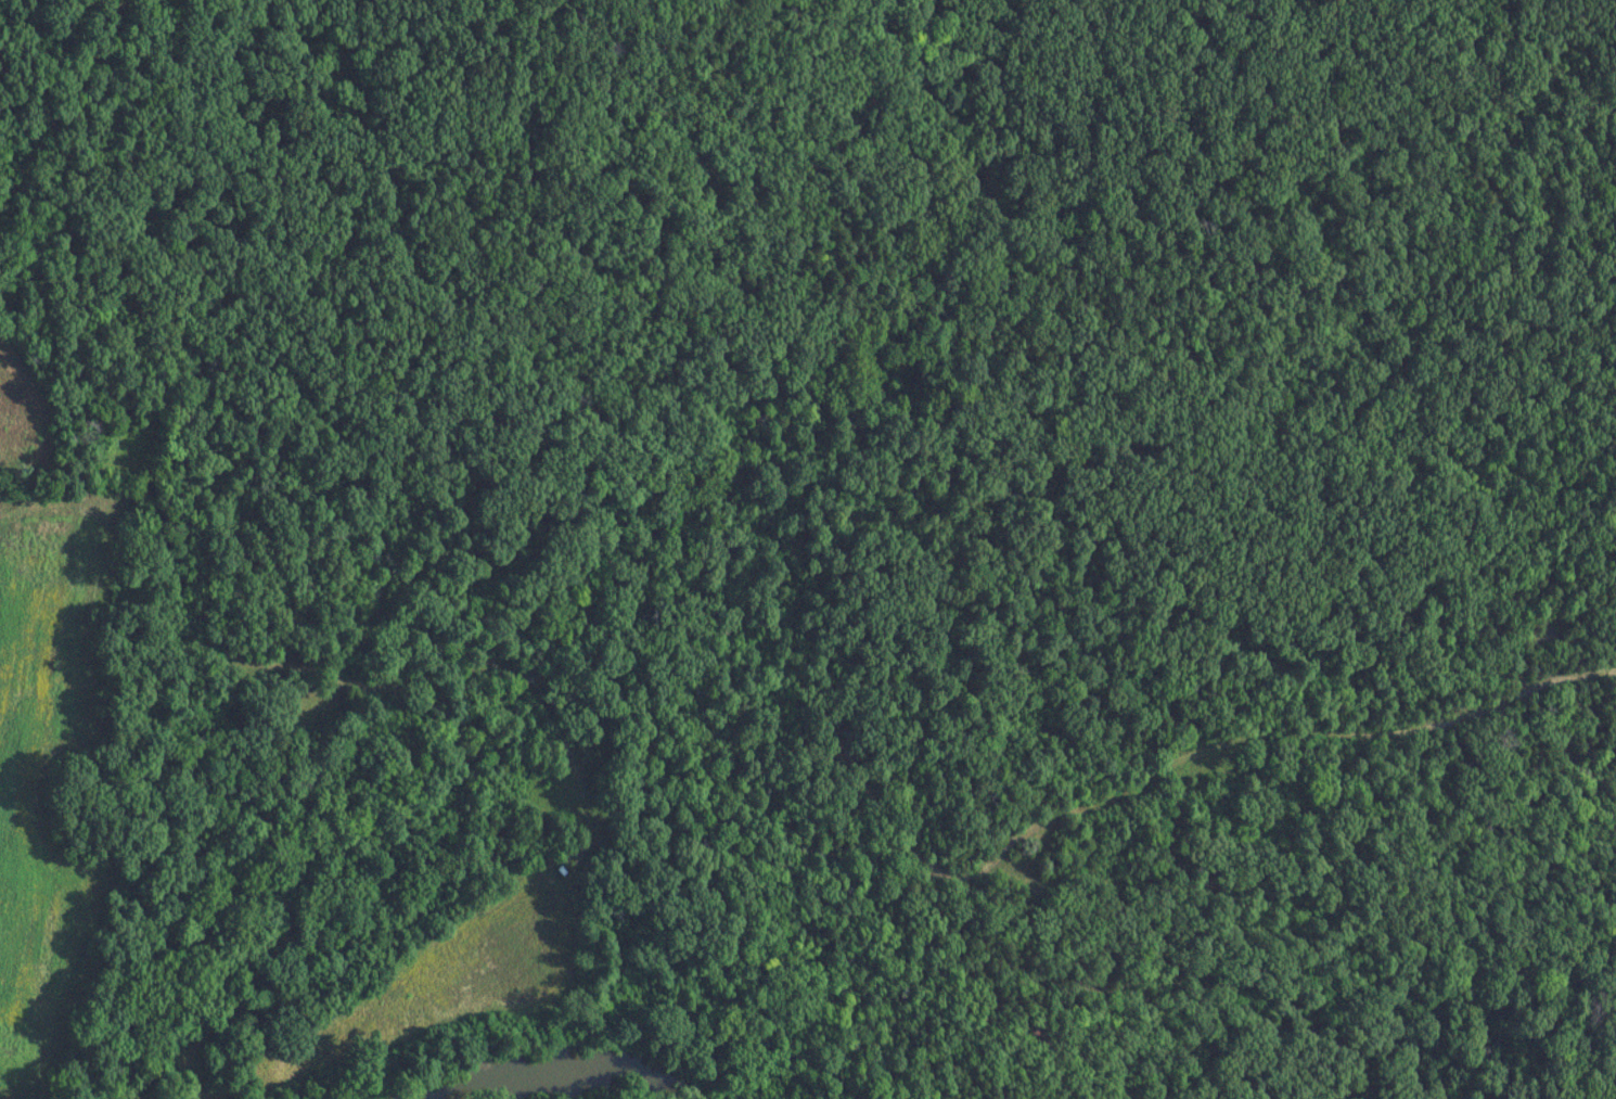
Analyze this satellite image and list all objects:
road: (56, 114)
road: (754, 705)

